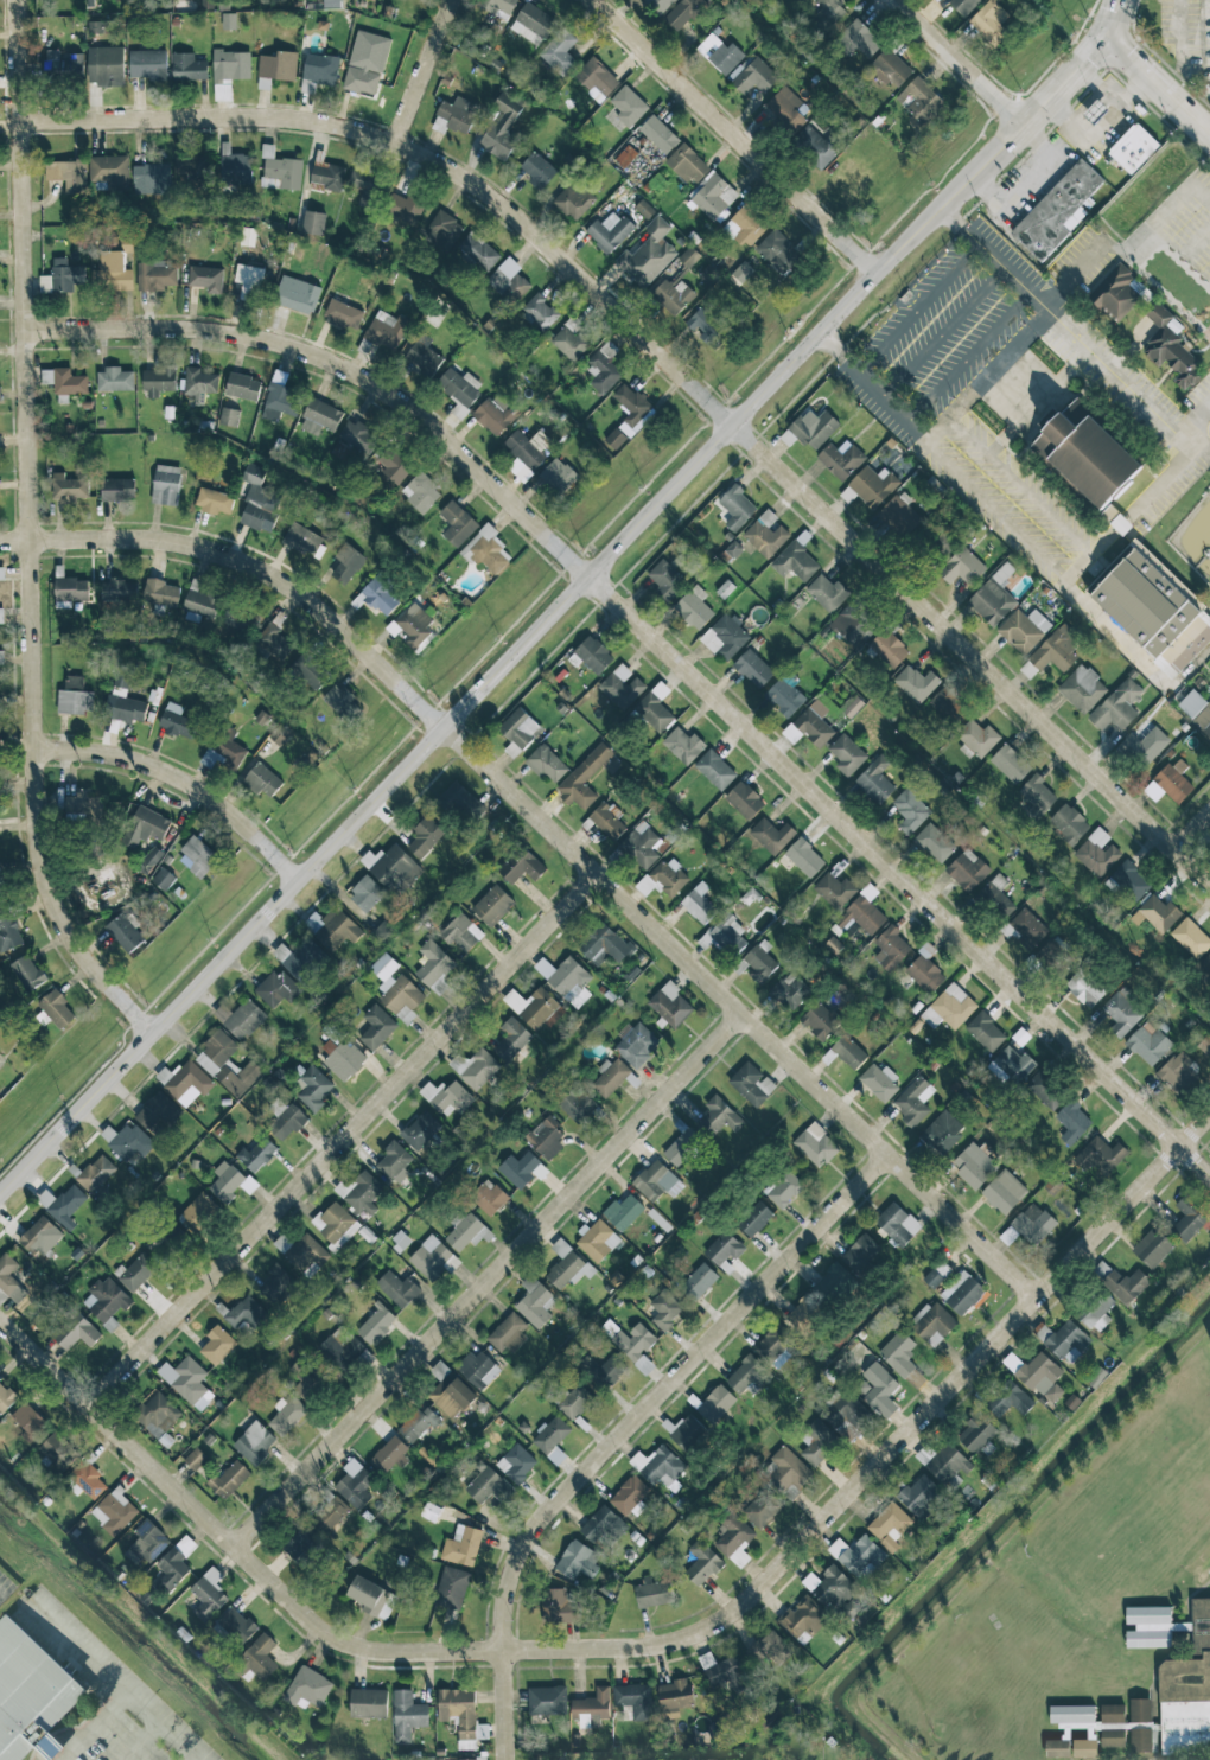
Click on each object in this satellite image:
building: (801, 1)
building: (658, 5)
building: (962, 5)
building: (498, 7)
building: (827, 11)
building: (682, 13)
road: (1107, 13)
building: (991, 23)
building: (533, 24)
building: (94, 27)
road: (1180, 30)
building: (858, 39)
building: (709, 43)
building: (559, 52)
building: (726, 57)
road: (956, 62)
building: (63, 64)
building: (147, 64)
building: (106, 65)
building: (230, 65)
building: (278, 65)
building: (187, 68)
building: (320, 69)
building: (890, 69)
road: (422, 71)
building: (754, 76)
building: (596, 77)
building: (361, 81)
road: (1155, 81)
road: (1094, 84)
building: (919, 101)
building: (628, 106)
building: (785, 109)
building: (456, 116)
building: (501, 125)
road: (1100, 125)
building: (658, 134)
road: (733, 136)
building: (815, 146)
building: (1132, 147)
road: (422, 157)
building: (625, 157)
building: (687, 164)
building: (234, 166)
building: (192, 170)
building: (537, 170)
building: (110, 171)
building: (281, 173)
building: (68, 174)
building: (153, 176)
building: (327, 176)
building: (364, 187)
building: (713, 196)
road: (1182, 196)
building: (573, 200)
building: (405, 208)
building: (1056, 210)
flagpole: (979, 212)
building: (313, 223)
flagpole: (969, 223)
building: (745, 225)
building: (442, 230)
building: (609, 231)
flagpole: (956, 237)
road: (1198, 242)
flagpole: (945, 248)
road: (1183, 250)
building: (478, 251)
building: (777, 251)
building: (648, 254)
flagpole: (936, 259)
road: (1090, 261)
flagpole: (926, 269)
building: (741, 270)
building: (113, 272)
building: (155, 275)
building: (62, 276)
building: (205, 279)
flagpole: (917, 279)
building: (248, 281)
building: (509, 281)
flagpole: (907, 287)
building: (1115, 288)
flagpole: (911, 292)
flagpole: (910, 293)
building: (297, 295)
building: (673, 296)
flagpole: (906, 296)
flagpole: (898, 298)
flagpole: (904, 298)
flagpole: (889, 307)
road: (919, 310)
building: (540, 312)
building: (342, 314)
flagpole: (879, 317)
building: (703, 324)
road: (1066, 325)
flagpole: (870, 327)
building: (386, 330)
road: (942, 332)
building: (569, 339)
building: (1168, 345)
flagpole: (851, 347)
road: (969, 357)
building: (422, 358)
flagpole: (836, 363)
road: (342, 368)
road: (991, 371)
flagpole: (827, 372)
building: (114, 380)
building: (64, 381)
building: (158, 381)
building: (198, 385)
building: (242, 387)
road: (870, 387)
building: (459, 389)
park: (1020, 389)
building: (0, 394)
building: (280, 402)
building: (632, 409)
building: (495, 414)
building: (229, 416)
building: (320, 417)
road: (1196, 421)
road: (937, 427)
building: (810, 431)
building: (356, 435)
building: (614, 439)
road: (1202, 447)
building: (526, 451)
building: (1087, 454)
building: (840, 459)
building: (394, 465)
building: (558, 476)
building: (166, 485)
building: (872, 485)
building: (69, 487)
road: (1020, 489)
building: (117, 490)
building: (420, 492)
building: (214, 500)
building: (259, 502)
building: (737, 506)
road: (995, 515)
building: (898, 516)
road: (1129, 517)
building: (457, 523)
road: (27, 534)
building: (766, 534)
building: (304, 540)
building: (942, 543)
building: (485, 549)
building: (795, 562)
road: (1199, 562)
building: (346, 563)
building: (961, 566)
road: (249, 567)
building: (1, 573)
building: (665, 579)
building: (71, 589)
building: (119, 589)
building: (827, 592)
building: (161, 593)
building: (1145, 595)
building: (380, 597)
building: (993, 597)
building: (199, 605)
building: (694, 607)
road: (553, 613)
building: (1, 617)
building: (235, 617)
building: (412, 624)
building: (853, 624)
building: (1023, 629)
building: (725, 636)
building: (274, 642)
building: (889, 648)
building: (1055, 650)
road: (970, 653)
building: (593, 655)
building: (1, 657)
road: (1139, 661)
building: (753, 668)
building: (308, 672)
building: (916, 683)
building: (622, 687)
building: (1082, 688)
building: (75, 697)
building: (784, 697)
building: (342, 702)
building: (1191, 703)
building: (1116, 704)
building: (126, 706)
building: (852, 706)
building: (948, 706)
building: (652, 713)
building: (176, 721)
building: (1203, 721)
building: (814, 723)
building: (518, 731)
building: (976, 739)
building: (683, 745)
building: (1145, 745)
building: (229, 751)
building: (846, 754)
building: (1010, 763)
building: (547, 764)
building: (714, 770)
building: (584, 777)
building: (875, 779)
building: (262, 780)
road: (181, 782)
building: (1170, 782)
building: (1036, 795)
building: (744, 799)
building: (460, 803)
building: (84, 806)
building: (910, 810)
building: (606, 820)
building: (1069, 823)
building: (144, 827)
road: (1191, 828)
building: (771, 835)
building: (425, 836)
building: (934, 842)
building: (641, 846)
building: (1097, 853)
building: (197, 856)
building: (804, 857)
building: (149, 860)
building: (521, 866)
building: (391, 867)
building: (967, 869)
road: (899, 875)
building: (163, 879)
building: (663, 879)
building: (1127, 881)
building: (1, 889)
building: (834, 889)
building: (365, 893)
building: (995, 898)
building: (695, 904)
building: (492, 905)
building: (1159, 913)
building: (1028, 926)
building: (332, 927)
building: (125, 931)
building: (8, 932)
building: (461, 932)
building: (725, 937)
building: (1190, 937)
building: (604, 944)
building: (890, 948)
building: (1051, 951)
building: (299, 958)
building: (759, 962)
building: (1206, 962)
building: (433, 967)
building: (27, 973)
building: (924, 974)
building: (569, 981)
building: (1084, 988)
building: (276, 989)
building: (396, 989)
building: (790, 990)
building: (670, 1005)
building: (950, 1006)
building: (536, 1008)
building: (56, 1009)
building: (1122, 1012)
road: (738, 1014)
building: (240, 1019)
building: (820, 1021)
building: (376, 1027)
building: (985, 1032)
building: (511, 1039)
building: (1148, 1042)
building: (636, 1045)
building: (848, 1051)
building: (340, 1054)
building: (227, 1064)
building: (1013, 1064)
building: (475, 1067)
building: (1178, 1071)
building: (610, 1076)
building: (185, 1082)
building: (879, 1082)
building: (750, 1083)
building: (312, 1088)
building: (1044, 1091)
building: (446, 1097)
building: (913, 1101)
building: (577, 1104)
building: (157, 1114)
building: (719, 1116)
building: (286, 1122)
building: (1071, 1122)
building: (420, 1130)
building: (942, 1131)
building: (544, 1137)
building: (127, 1141)
road: (342, 1141)
building: (815, 1144)
building: (682, 1146)
building: (256, 1154)
building: (1100, 1156)
building: (394, 1162)
building: (973, 1165)
building: (522, 1169)
building: (96, 1174)
building: (227, 1180)
building: (654, 1181)
building: (783, 1188)
building: (361, 1192)
building: (1004, 1192)
building: (489, 1197)
building: (66, 1203)
building: (198, 1212)
building: (623, 1212)
building: (753, 1218)
building: (1187, 1219)
building: (897, 1223)
building: (1033, 1223)
building: (335, 1224)
building: (465, 1232)
building: (39, 1237)
building: (598, 1241)
building: (724, 1248)
building: (1152, 1248)
building: (864, 1252)
building: (306, 1255)
building: (432, 1260)
building: (566, 1267)
building: (1101, 1270)
building: (135, 1273)
building: (936, 1274)
building: (9, 1278)
building: (699, 1281)
road: (489, 1283)
building: (276, 1284)
building: (1126, 1286)
building: (397, 1288)
building: (961, 1293)
building: (820, 1300)
building: (106, 1301)
building: (535, 1302)
building: (664, 1309)
building: (1096, 1312)
building: (246, 1315)
building: (932, 1322)
building: (376, 1325)
building: (508, 1333)
building: (77, 1334)
building: (633, 1341)
building: (1066, 1343)
building: (772, 1344)
building: (217, 1345)
building: (898, 1353)
building: (478, 1369)
building: (607, 1372)
building: (747, 1375)
building: (1042, 1376)
building: (305, 1378)
building: (187, 1382)
building: (877, 1384)
building: (450, 1394)
building: (5, 1398)
building: (1010, 1399)
building: (574, 1402)
building: (715, 1404)
building: (845, 1414)
building: (158, 1415)
building: (287, 1416)
building: (28, 1420)
building: (418, 1424)
road: (628, 1427)
building: (687, 1433)
building: (976, 1434)
building: (550, 1435)
building: (254, 1443)
building: (817, 1443)
road: (890, 1448)
building: (58, 1452)
building: (391, 1454)
building: (195, 1459)
building: (516, 1462)
building: (948, 1465)
building: (658, 1466)
building: (788, 1472)
building: (87, 1479)
building: (229, 1479)
building: (354, 1484)
building: (488, 1486)
building: (921, 1496)
building: (630, 1497)
building: (762, 1509)
building: (114, 1511)
building: (331, 1512)
building: (890, 1525)
building: (603, 1526)
building: (732, 1533)
road: (228, 1541)
building: (461, 1545)
building: (858, 1556)
building: (578, 1560)
building: (176, 1562)
building: (701, 1563)
building: (451, 1588)
building: (836, 1590)
building: (208, 1594)
building: (652, 1594)
building: (371, 1596)
building: (560, 1606)
building: (803, 1619)
building: (235, 1626)
building: (1149, 1626)
building: (768, 1650)
building: (260, 1657)
building: (727, 1673)
road: (115, 1684)
building: (307, 1689)
building: (1186, 1690)
building: (30, 1697)
building: (674, 1697)
building: (547, 1700)
building: (633, 1700)
building: (368, 1703)
building: (591, 1708)
building: (1139, 1709)
building: (407, 1715)
building: (461, 1715)
road: (94, 1726)
building: (1077, 1727)
building: (1114, 1728)
building: (1139, 1737)
road: (146, 1743)
building: (1084, 1748)
road: (193, 1758)
building: (466, 1759)

